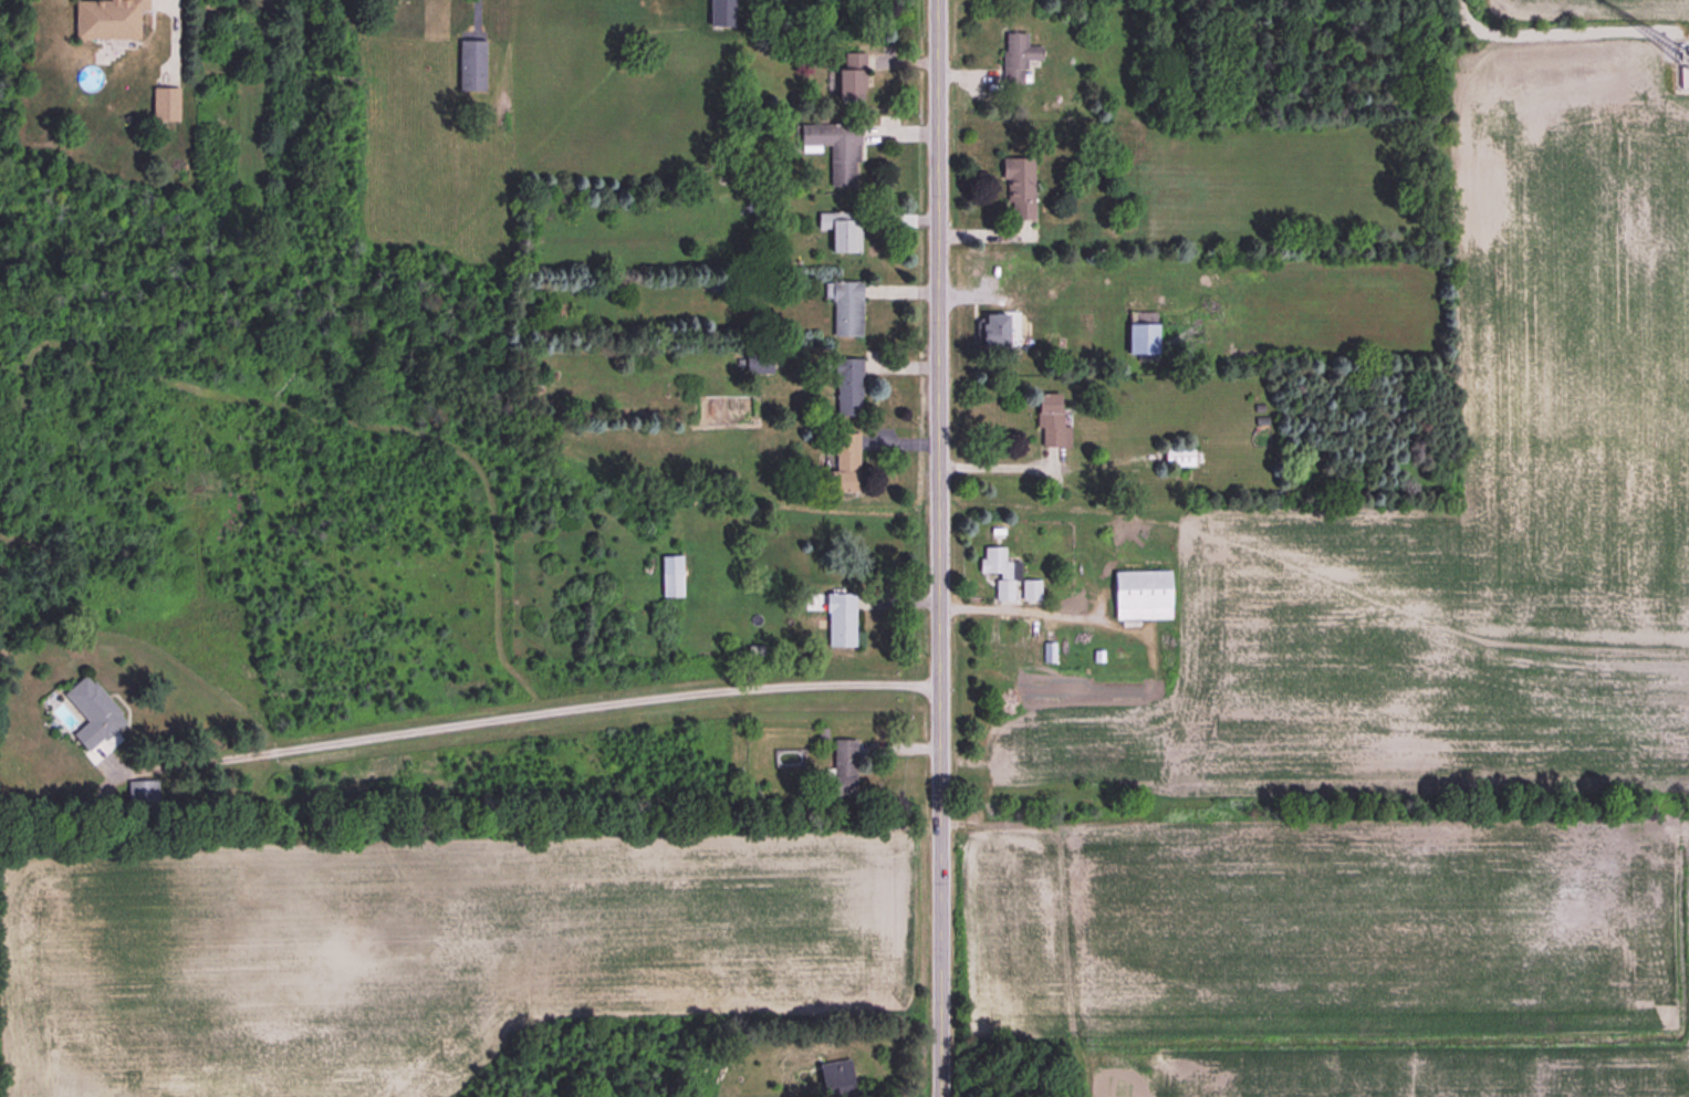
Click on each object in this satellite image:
building: (721, 14)
building: (107, 20)
building: (1016, 58)
building: (470, 66)
building: (851, 79)
building: (165, 106)
building: (835, 150)
building: (1019, 188)
building: (837, 231)
building: (846, 311)
building: (993, 332)
building: (1141, 342)
building: (757, 365)
building: (847, 388)
building: (1051, 425)
building: (1178, 457)
building: (843, 468)
road: (940, 548)
building: (999, 574)
building: (670, 578)
building: (1030, 592)
building: (1141, 597)
building: (840, 621)
building: (93, 713)
road: (526, 718)
building: (844, 769)
building: (143, 797)
building: (835, 1079)

